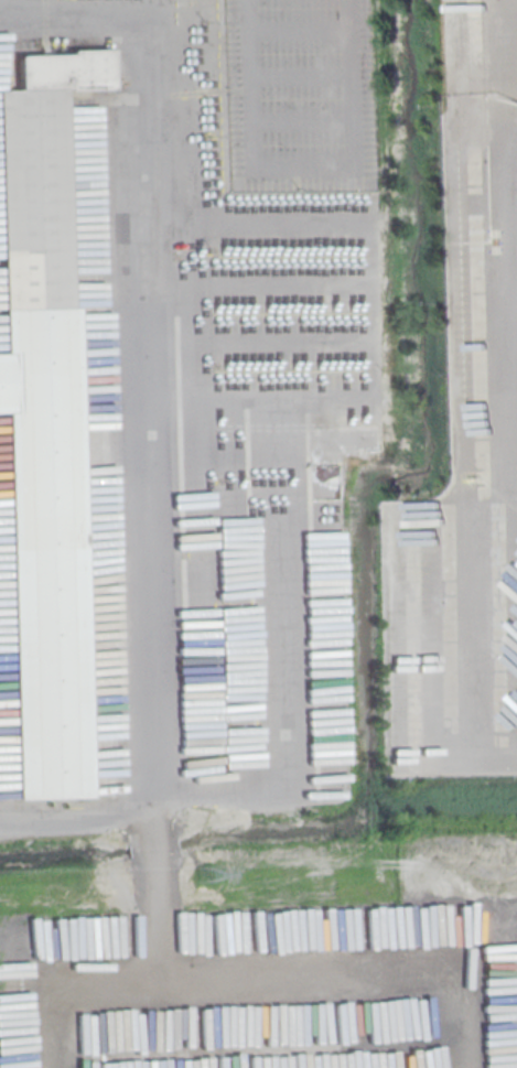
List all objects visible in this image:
road: (298, 22)
road: (300, 68)
road: (302, 126)
road: (301, 186)
road: (254, 284)
road: (368, 289)
road: (139, 333)
building: (42, 449)
road: (290, 735)
power tower: (204, 870)

